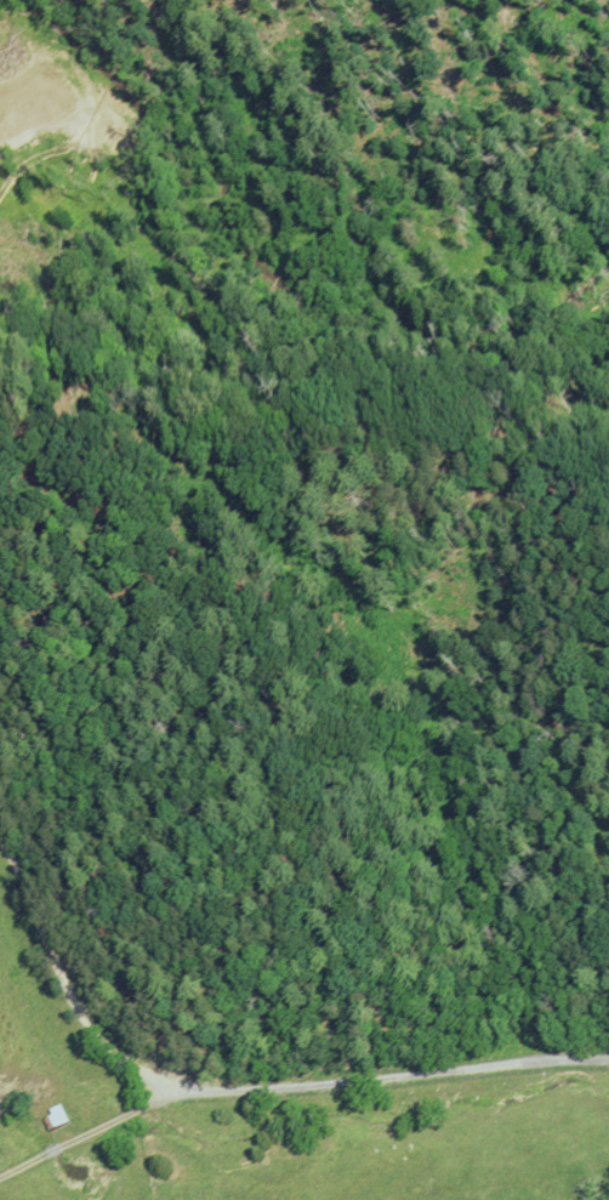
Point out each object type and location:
road: (62, 982)
road: (388, 1079)
building: (58, 1115)
road: (84, 1133)

